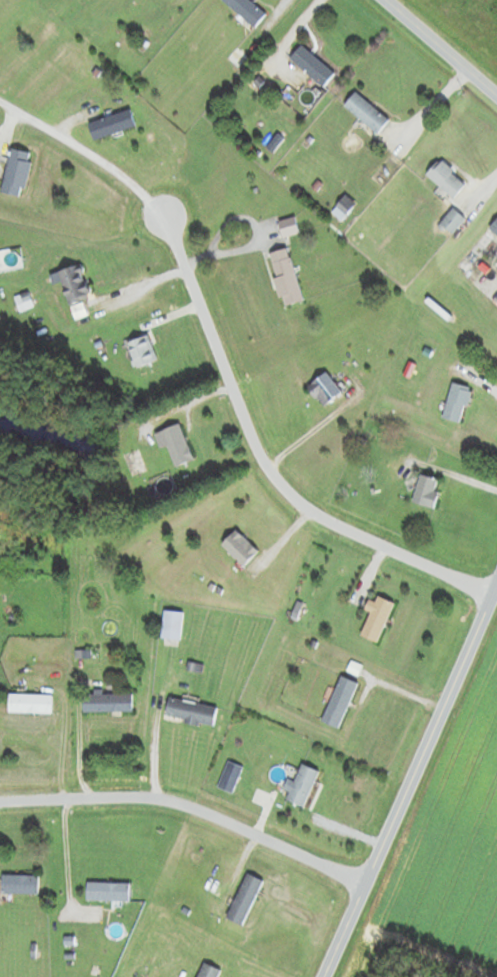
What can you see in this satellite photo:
building: (248, 11)
road: (440, 48)
building: (237, 58)
building: (314, 66)
building: (368, 112)
building: (113, 124)
road: (83, 157)
building: (18, 172)
building: (448, 179)
building: (344, 208)
building: (454, 220)
building: (290, 227)
building: (494, 229)
building: (288, 282)
building: (76, 284)
building: (25, 302)
building: (143, 351)
building: (326, 390)
building: (457, 403)
building: (178, 445)
road: (261, 461)
building: (241, 548)
building: (378, 619)
building: (172, 628)
building: (109, 702)
building: (341, 702)
building: (31, 703)
building: (192, 712)
road: (432, 725)
road: (60, 750)
building: (304, 785)
road: (191, 807)
building: (22, 885)
building: (109, 892)
building: (246, 899)
road: (348, 933)
building: (210, 971)

